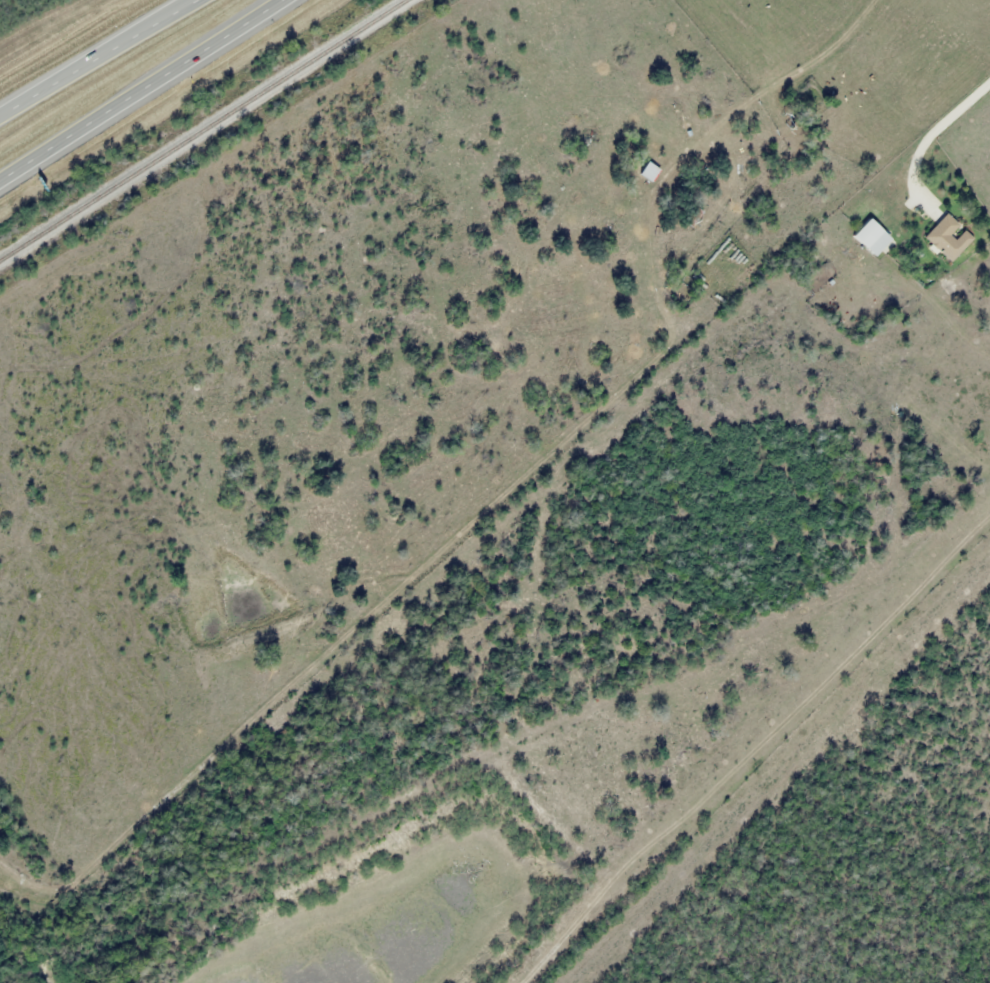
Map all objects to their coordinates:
road: (95, 57)
road: (138, 87)
railway: (206, 134)
building: (647, 172)
building: (689, 215)
building: (868, 237)
building: (946, 238)

